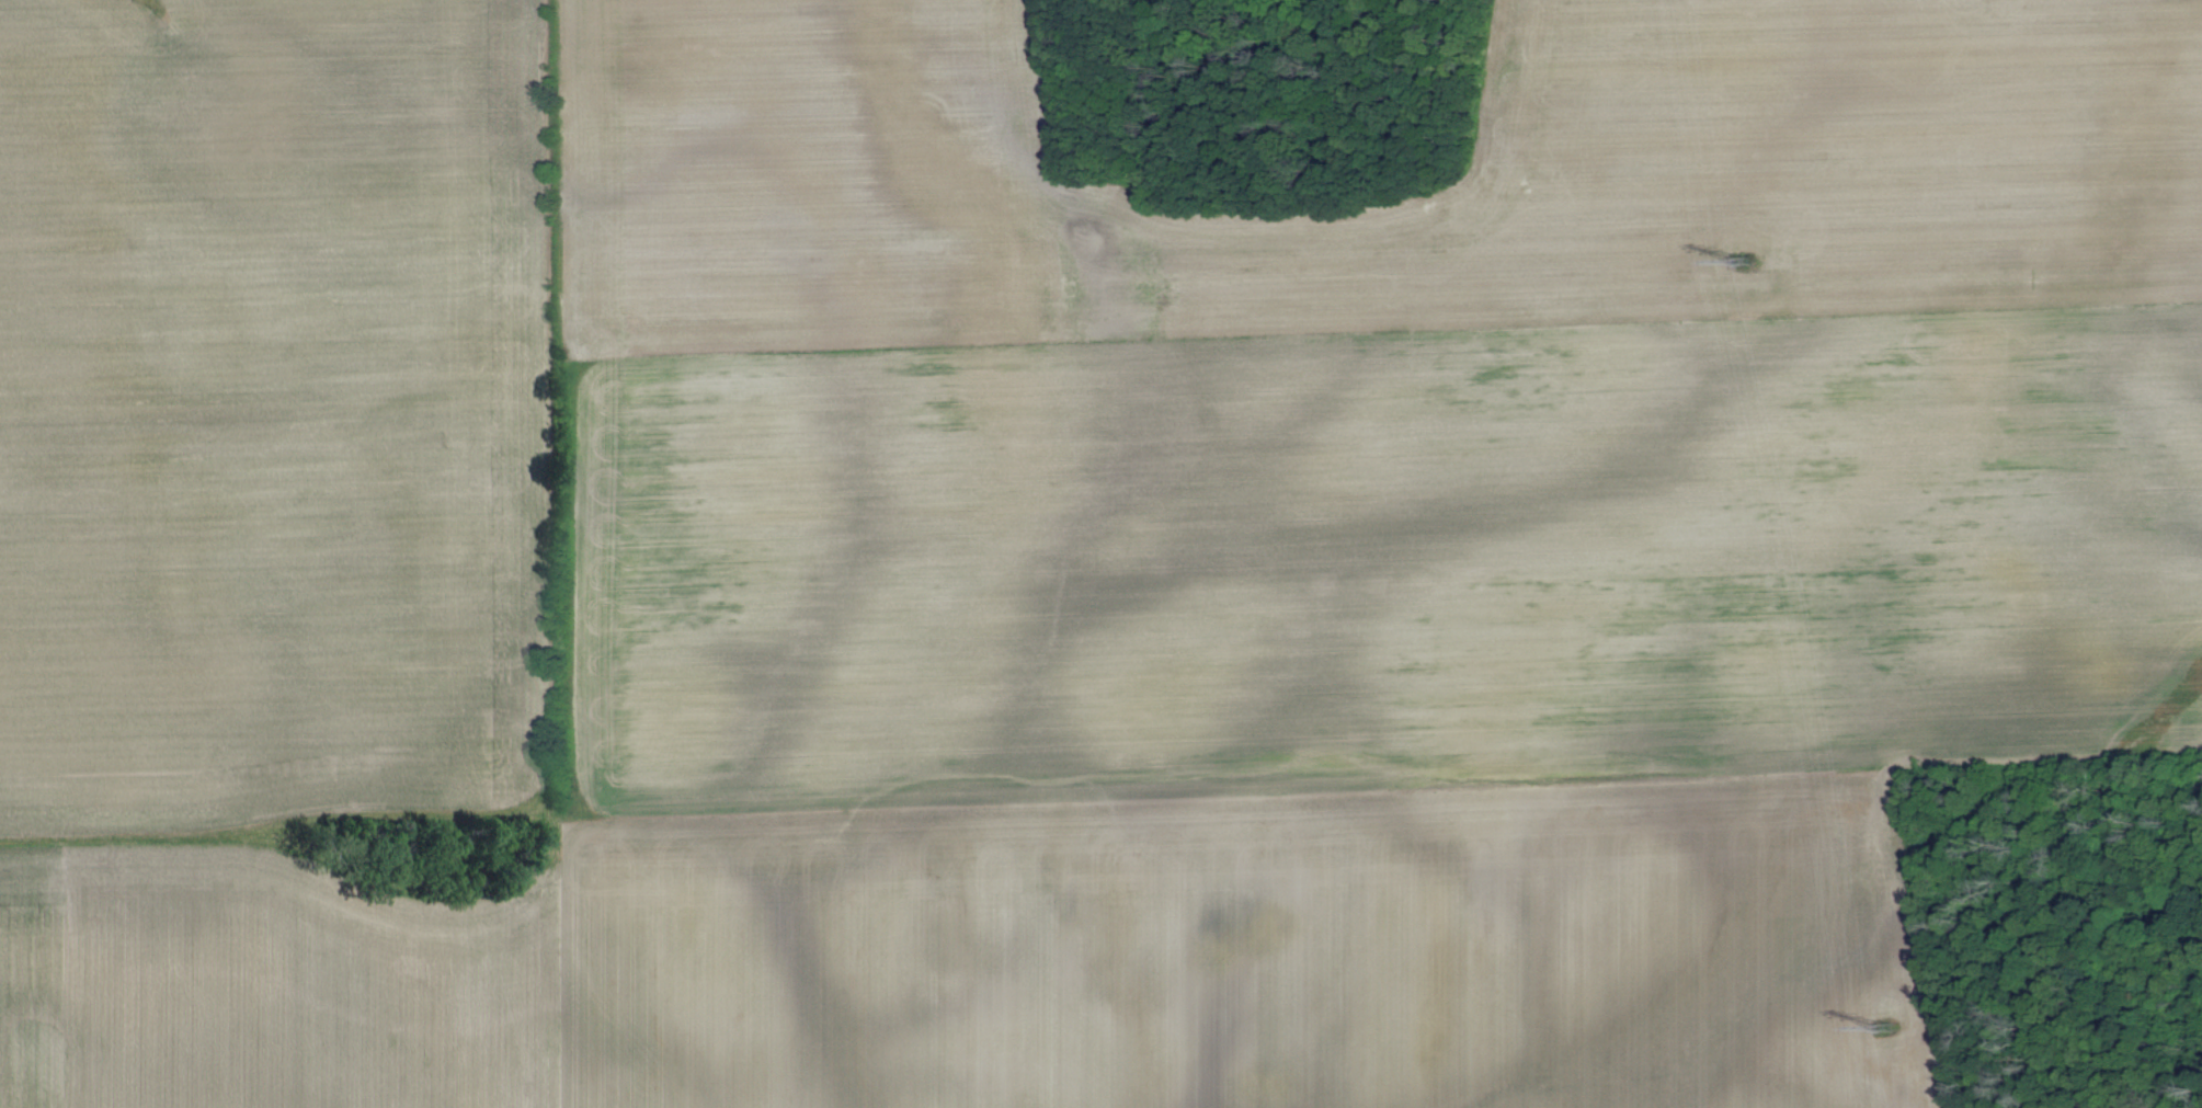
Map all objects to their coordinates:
power tower: (1749, 259)
power tower: (1887, 1021)

